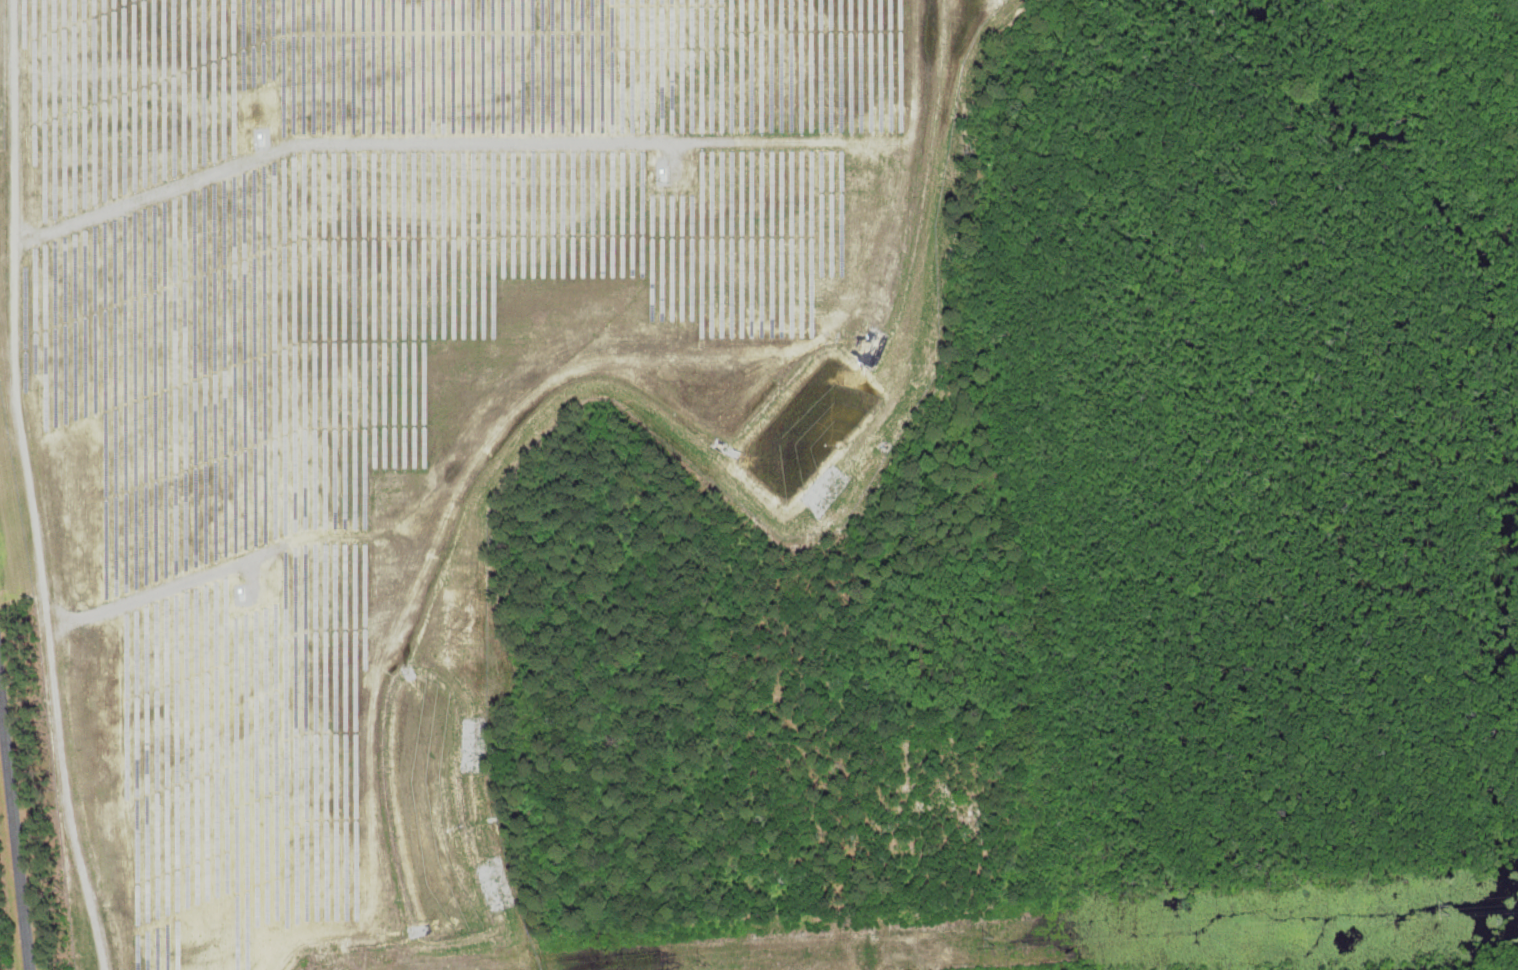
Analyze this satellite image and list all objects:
road: (14, 828)
power tower: (1450, 912)
power tower: (992, 944)
power tower: (705, 962)

